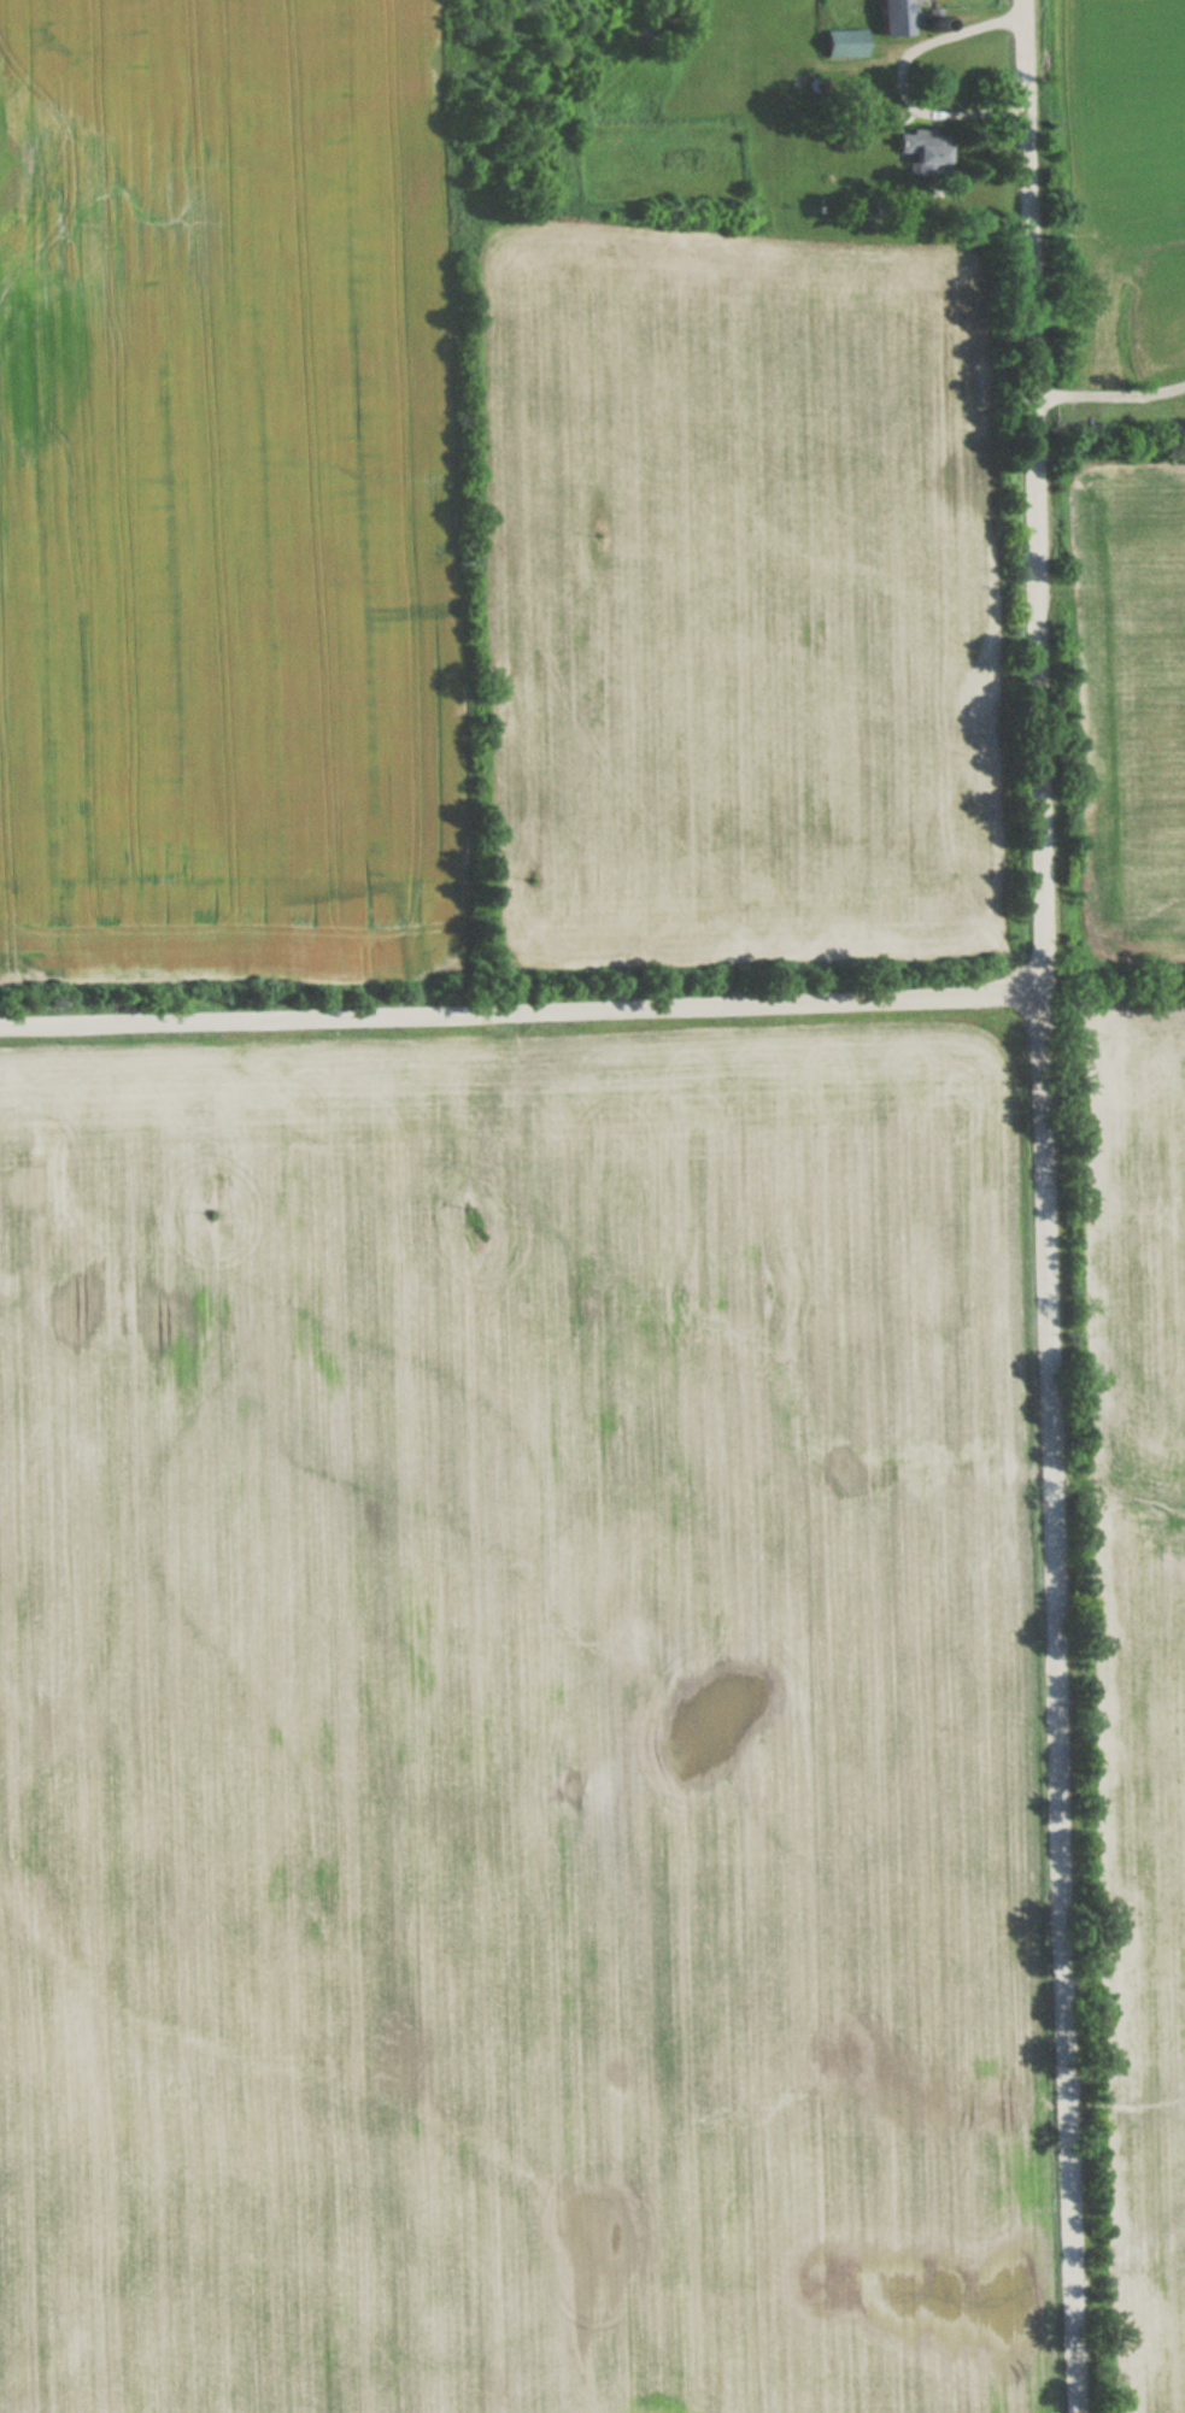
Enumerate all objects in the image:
building: (894, 18)
building: (845, 42)
road: (904, 71)
building: (927, 152)
road: (1109, 394)
road: (522, 1010)
road: (1049, 1206)

